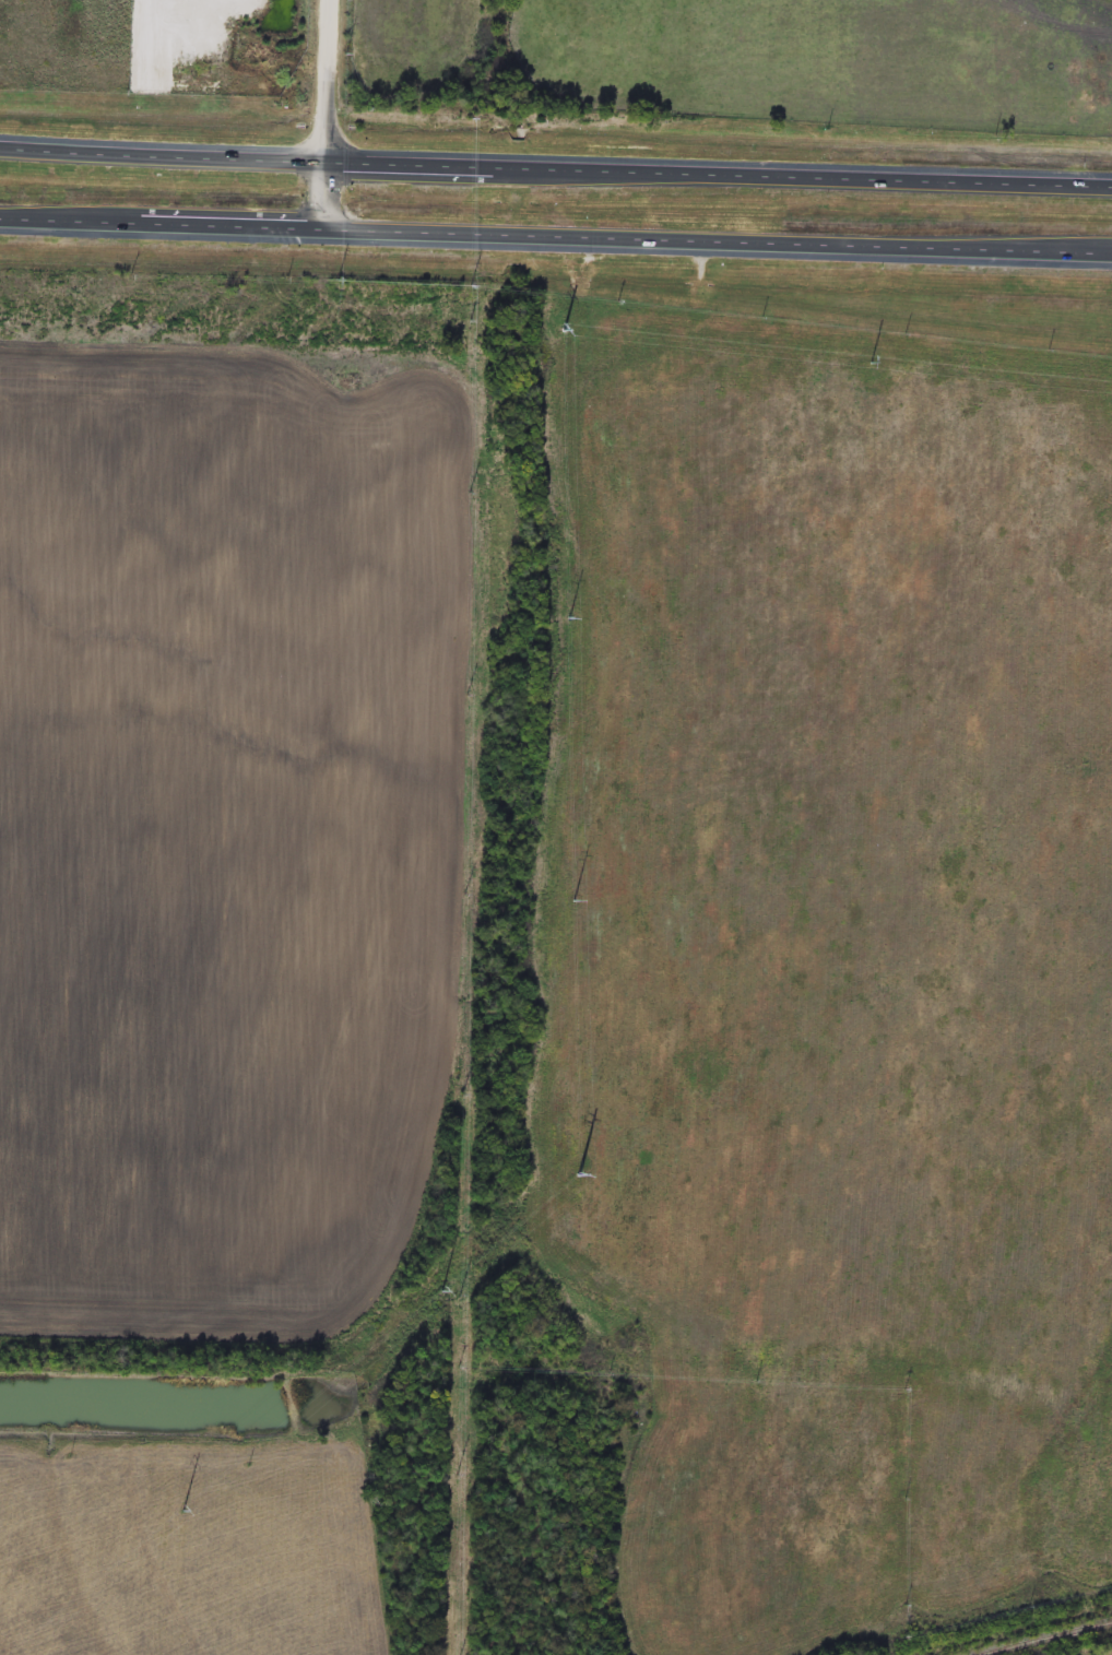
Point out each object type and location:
road: (328, 72)
road: (555, 152)
road: (555, 240)
power tower: (956, 856)
power tower: (690, 1081)
power tower: (426, 1296)
power tower: (167, 1512)
railway: (1048, 1638)

